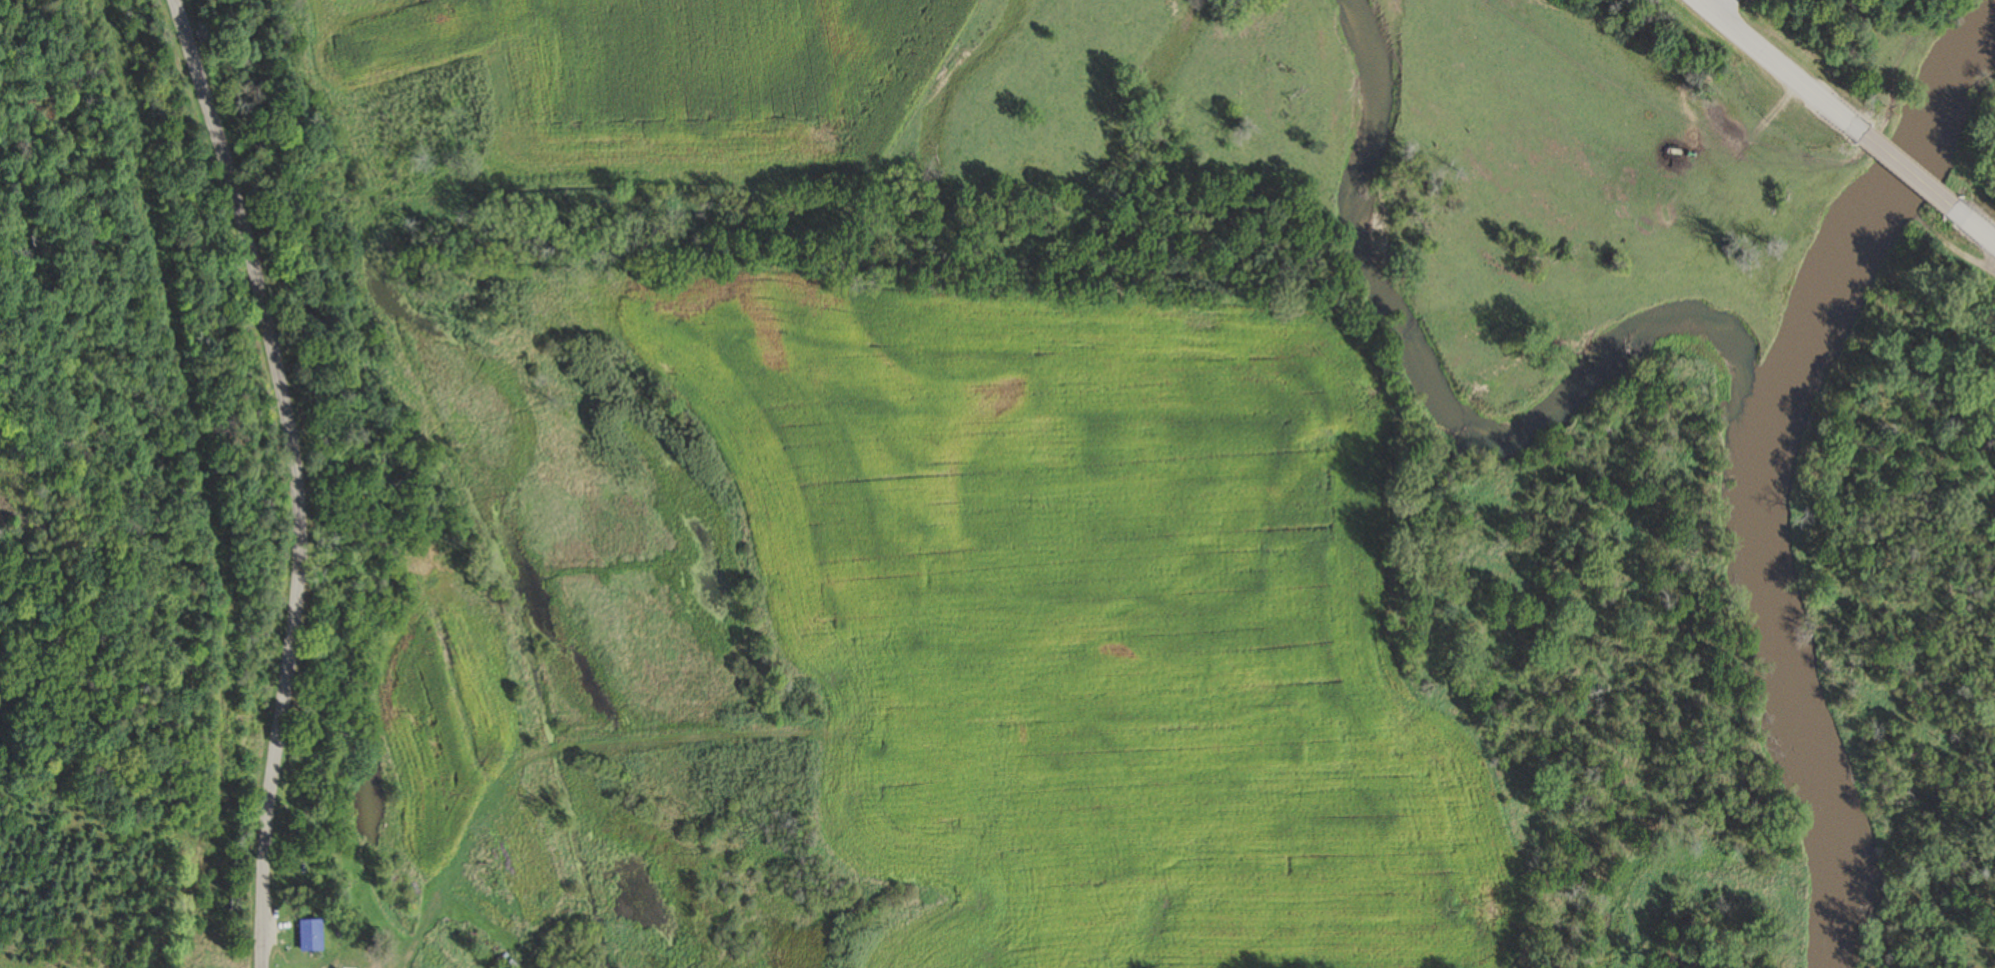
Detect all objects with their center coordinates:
road: (1705, 5)
road: (1717, 5)
road: (1786, 73)
road: (1907, 173)
road: (1974, 226)
river: (1770, 468)
road: (295, 477)
building: (309, 936)

